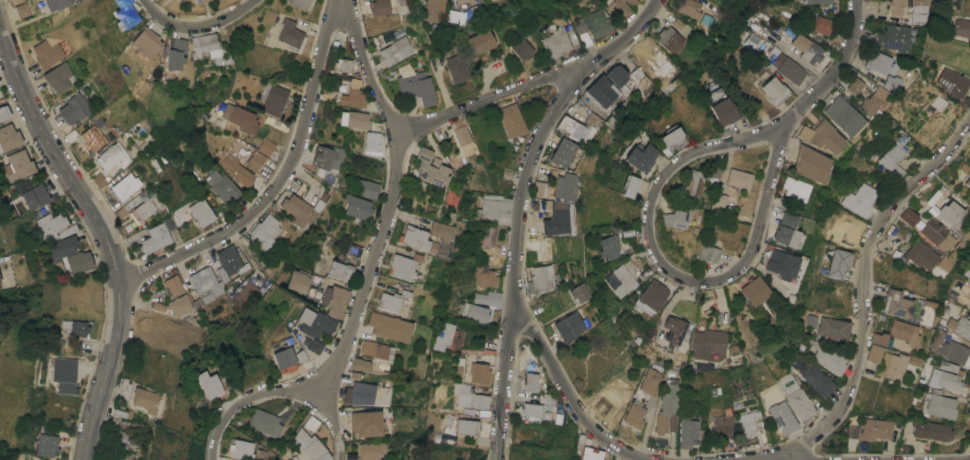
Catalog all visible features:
building: (178, 0)
building: (180, 0)
building: (194, 0)
building: (200, 1)
building: (819, 1)
building: (301, 3)
building: (58, 4)
building: (896, 6)
building: (378, 7)
building: (477, 8)
building: (690, 8)
building: (434, 9)
building: (620, 9)
building: (23, 10)
building: (919, 11)
building: (126, 13)
building: (449, 22)
building: (594, 24)
building: (824, 25)
road: (196, 26)
building: (962, 27)
building: (273, 28)
building: (290, 33)
building: (675, 35)
building: (894, 38)
building: (268, 39)
building: (556, 40)
building: (146, 42)
building: (480, 42)
building: (211, 48)
building: (807, 48)
building: (522, 49)
building: (394, 51)
building: (48, 52)
building: (174, 53)
building: (878, 62)
building: (343, 65)
building: (788, 66)
building: (456, 68)
road: (365, 69)
road: (833, 73)
building: (619, 76)
building: (59, 77)
building: (891, 82)
building: (855, 84)
building: (954, 84)
building: (416, 85)
building: (775, 91)
building: (354, 95)
building: (274, 99)
road: (486, 99)
building: (605, 100)
building: (874, 101)
building: (938, 104)
building: (720, 107)
building: (74, 109)
building: (4, 113)
building: (844, 116)
building: (240, 118)
building: (355, 120)
building: (512, 120)
building: (577, 130)
building: (823, 136)
building: (672, 137)
building: (9, 138)
building: (92, 138)
building: (463, 139)
building: (255, 143)
building: (371, 143)
building: (267, 147)
building: (563, 152)
building: (113, 157)
building: (893, 157)
building: (327, 158)
building: (641, 158)
building: (256, 160)
building: (810, 164)
building: (19, 166)
building: (431, 168)
building: (237, 170)
building: (211, 177)
building: (739, 179)
building: (99, 180)
building: (699, 181)
road: (278, 182)
building: (967, 182)
building: (631, 185)
building: (567, 186)
building: (125, 187)
building: (224, 188)
building: (368, 188)
road: (769, 188)
building: (541, 189)
building: (796, 189)
building: (32, 193)
building: (707, 195)
building: (933, 197)
building: (861, 199)
building: (719, 202)
road: (521, 205)
building: (357, 207)
building: (139, 208)
building: (497, 208)
building: (299, 210)
building: (202, 212)
building: (950, 212)
road: (649, 214)
building: (677, 216)
building: (909, 216)
building: (447, 217)
building: (560, 219)
building: (168, 223)
building: (51, 225)
road: (103, 232)
building: (787, 232)
building: (265, 233)
building: (937, 234)
building: (487, 236)
building: (441, 237)
building: (155, 239)
building: (417, 239)
building: (961, 246)
building: (609, 247)
building: (62, 250)
building: (353, 250)
building: (708, 254)
building: (895, 254)
building: (921, 255)
building: (79, 261)
building: (839, 263)
building: (945, 263)
building: (785, 264)
building: (403, 266)
building: (340, 270)
building: (967, 272)
building: (219, 273)
road: (367, 273)
building: (485, 276)
building: (545, 279)
building: (620, 280)
road: (863, 284)
building: (174, 285)
building: (303, 285)
building: (755, 291)
building: (580, 292)
building: (246, 294)
building: (653, 295)
building: (488, 298)
building: (335, 301)
building: (393, 302)
building: (897, 304)
building: (180, 305)
building: (475, 313)
building: (315, 323)
building: (828, 326)
building: (960, 326)
building: (74, 327)
building: (389, 327)
building: (570, 327)
building: (674, 329)
building: (905, 334)
building: (445, 336)
building: (939, 337)
building: (881, 339)
building: (475, 342)
building: (707, 343)
building: (313, 345)
building: (375, 350)
building: (955, 352)
building: (873, 353)
building: (301, 355)
building: (283, 356)
building: (827, 357)
building: (913, 361)
building: (361, 365)
building: (527, 366)
building: (893, 366)
building: (948, 367)
building: (480, 373)
building: (64, 375)
building: (354, 376)
building: (812, 376)
building: (948, 379)
building: (531, 382)
building: (649, 382)
building: (209, 385)
building: (125, 390)
road: (567, 390)
road: (275, 393)
building: (362, 393)
building: (469, 397)
building: (145, 399)
building: (550, 402)
building: (800, 404)
building: (938, 405)
building: (667, 408)
building: (532, 409)
building: (120, 413)
building: (633, 415)
building: (782, 418)
building: (265, 423)
building: (366, 423)
building: (746, 423)
building: (311, 424)
building: (722, 427)
building: (457, 429)
building: (871, 430)
building: (933, 430)
building: (687, 431)
building: (131, 435)
building: (311, 446)
building: (48, 447)
building: (241, 449)
building: (371, 450)
building: (260, 453)
road: (616, 453)
building: (590, 454)
building: (349, 456)
building: (223, 458)
road: (786, 459)

